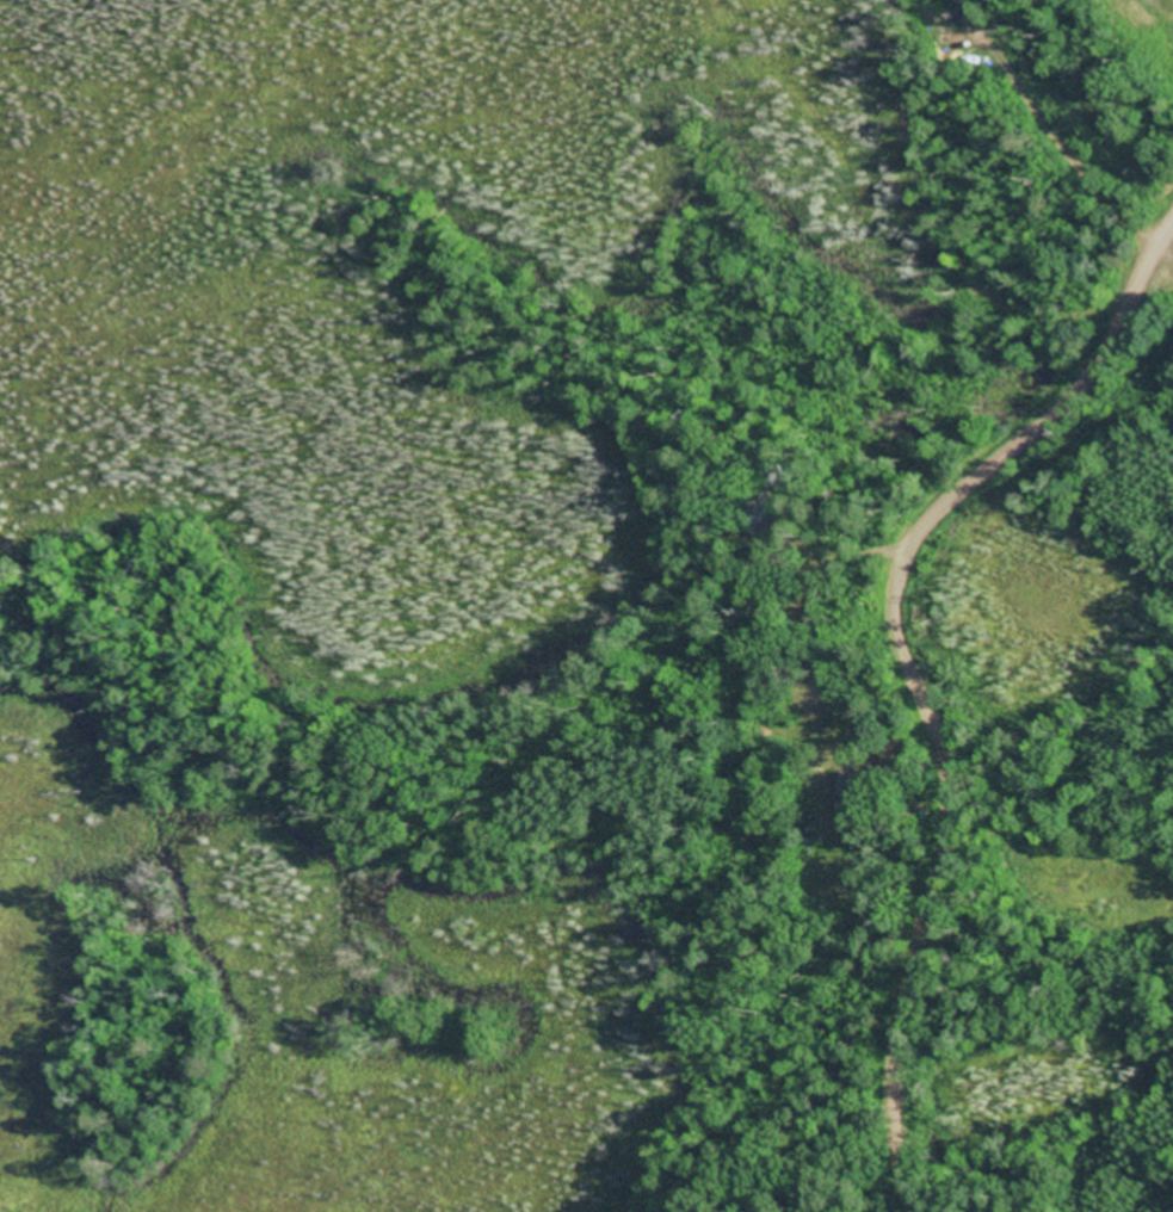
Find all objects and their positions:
road: (909, 669)
building: (854, 791)

